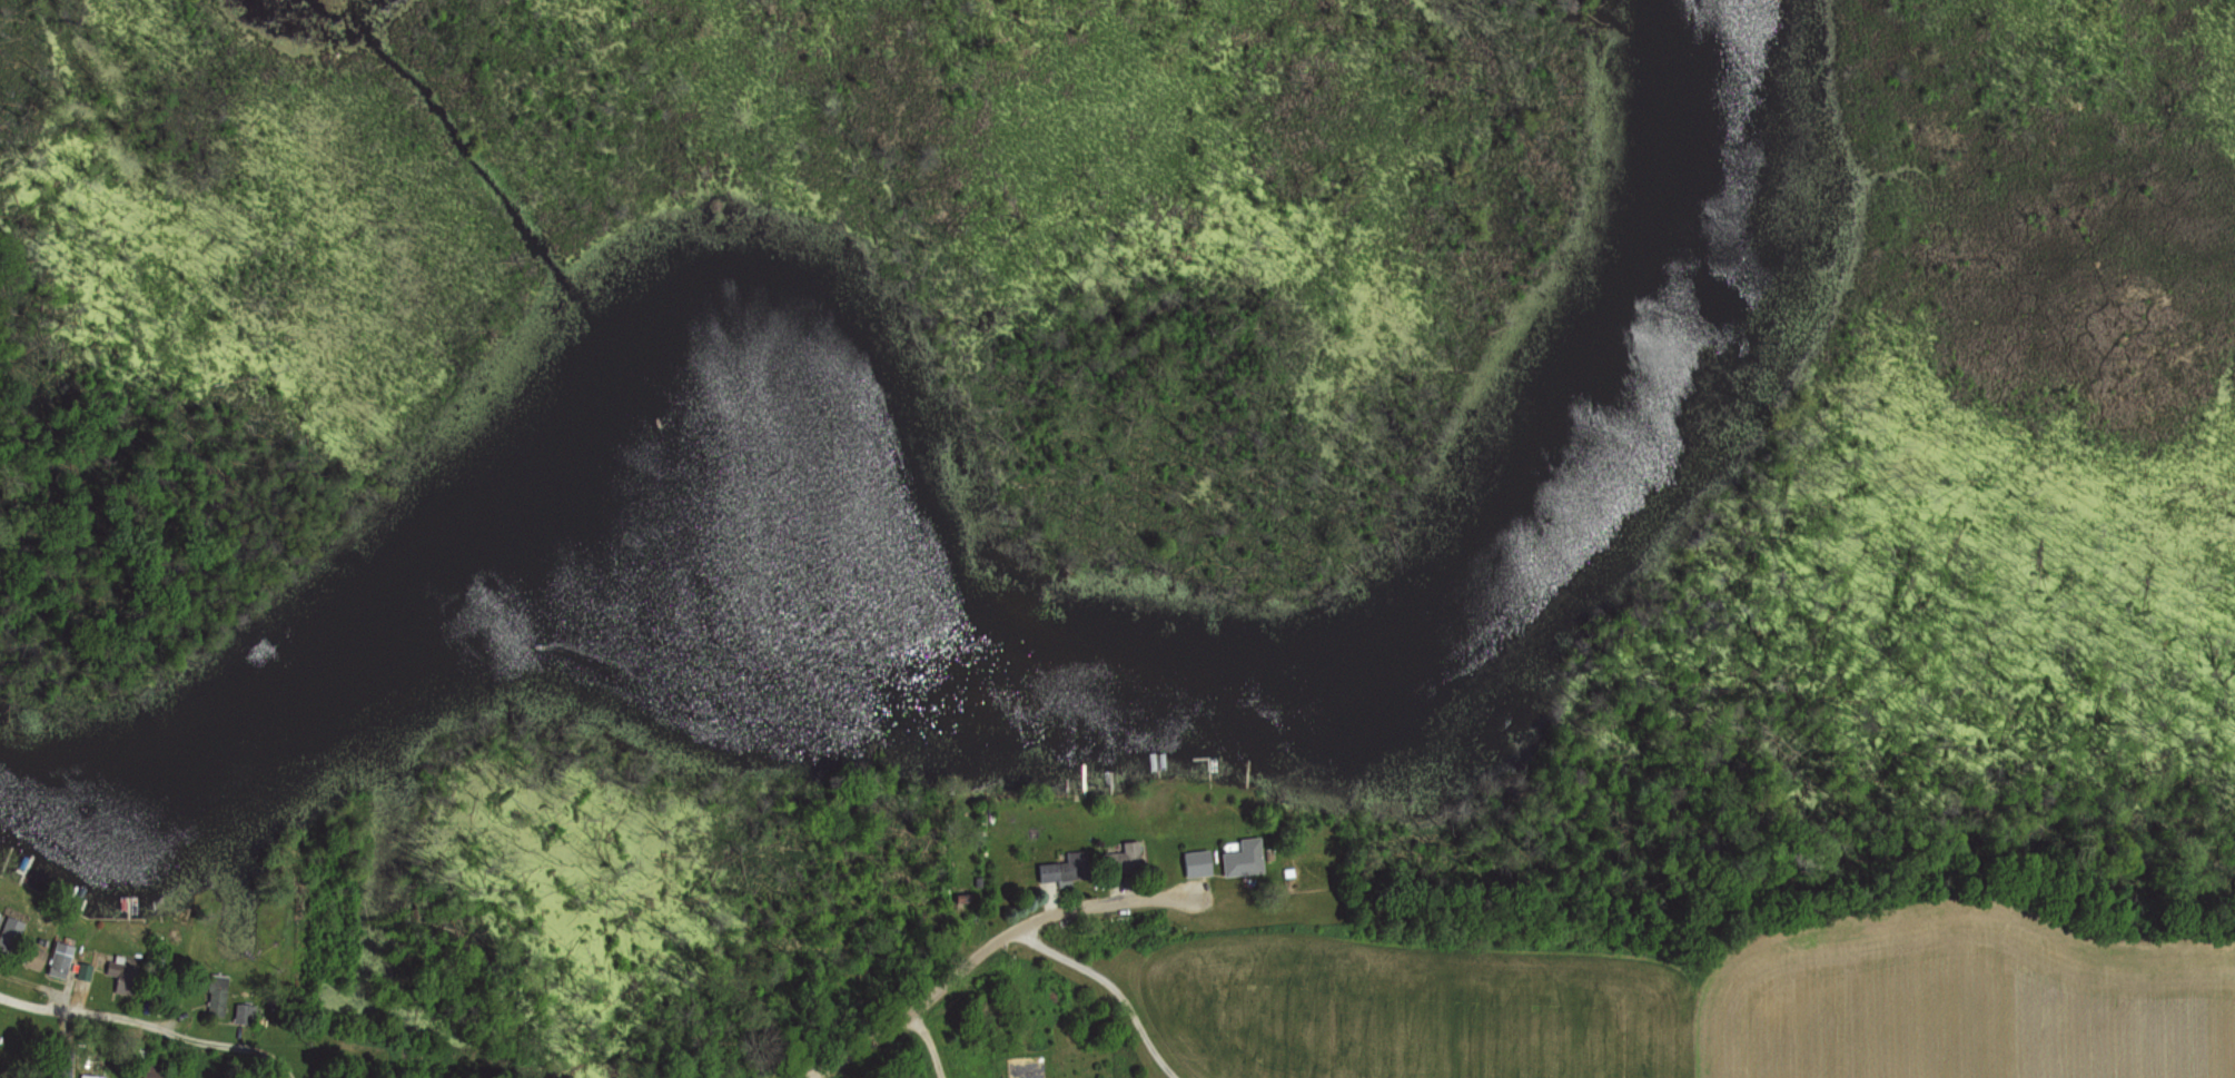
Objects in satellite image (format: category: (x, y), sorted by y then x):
building: (1244, 857)
building: (1121, 859)
building: (1198, 863)
building: (1068, 868)
road: (978, 949)
building: (37, 956)
building: (65, 958)
road: (1110, 982)
building: (218, 995)
building: (246, 1013)
road: (157, 1026)
building: (61, 1064)
building: (154, 1070)
building: (92, 1076)

